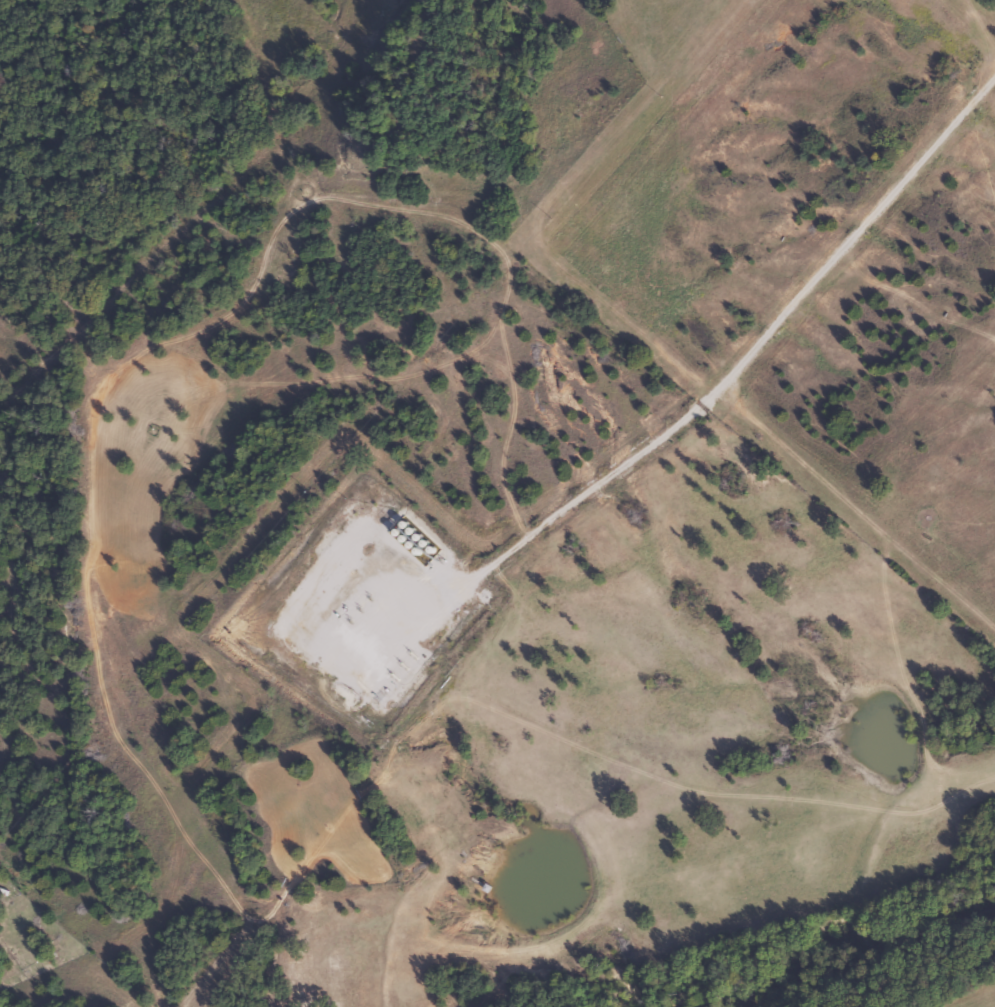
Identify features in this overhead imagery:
road: (735, 368)

